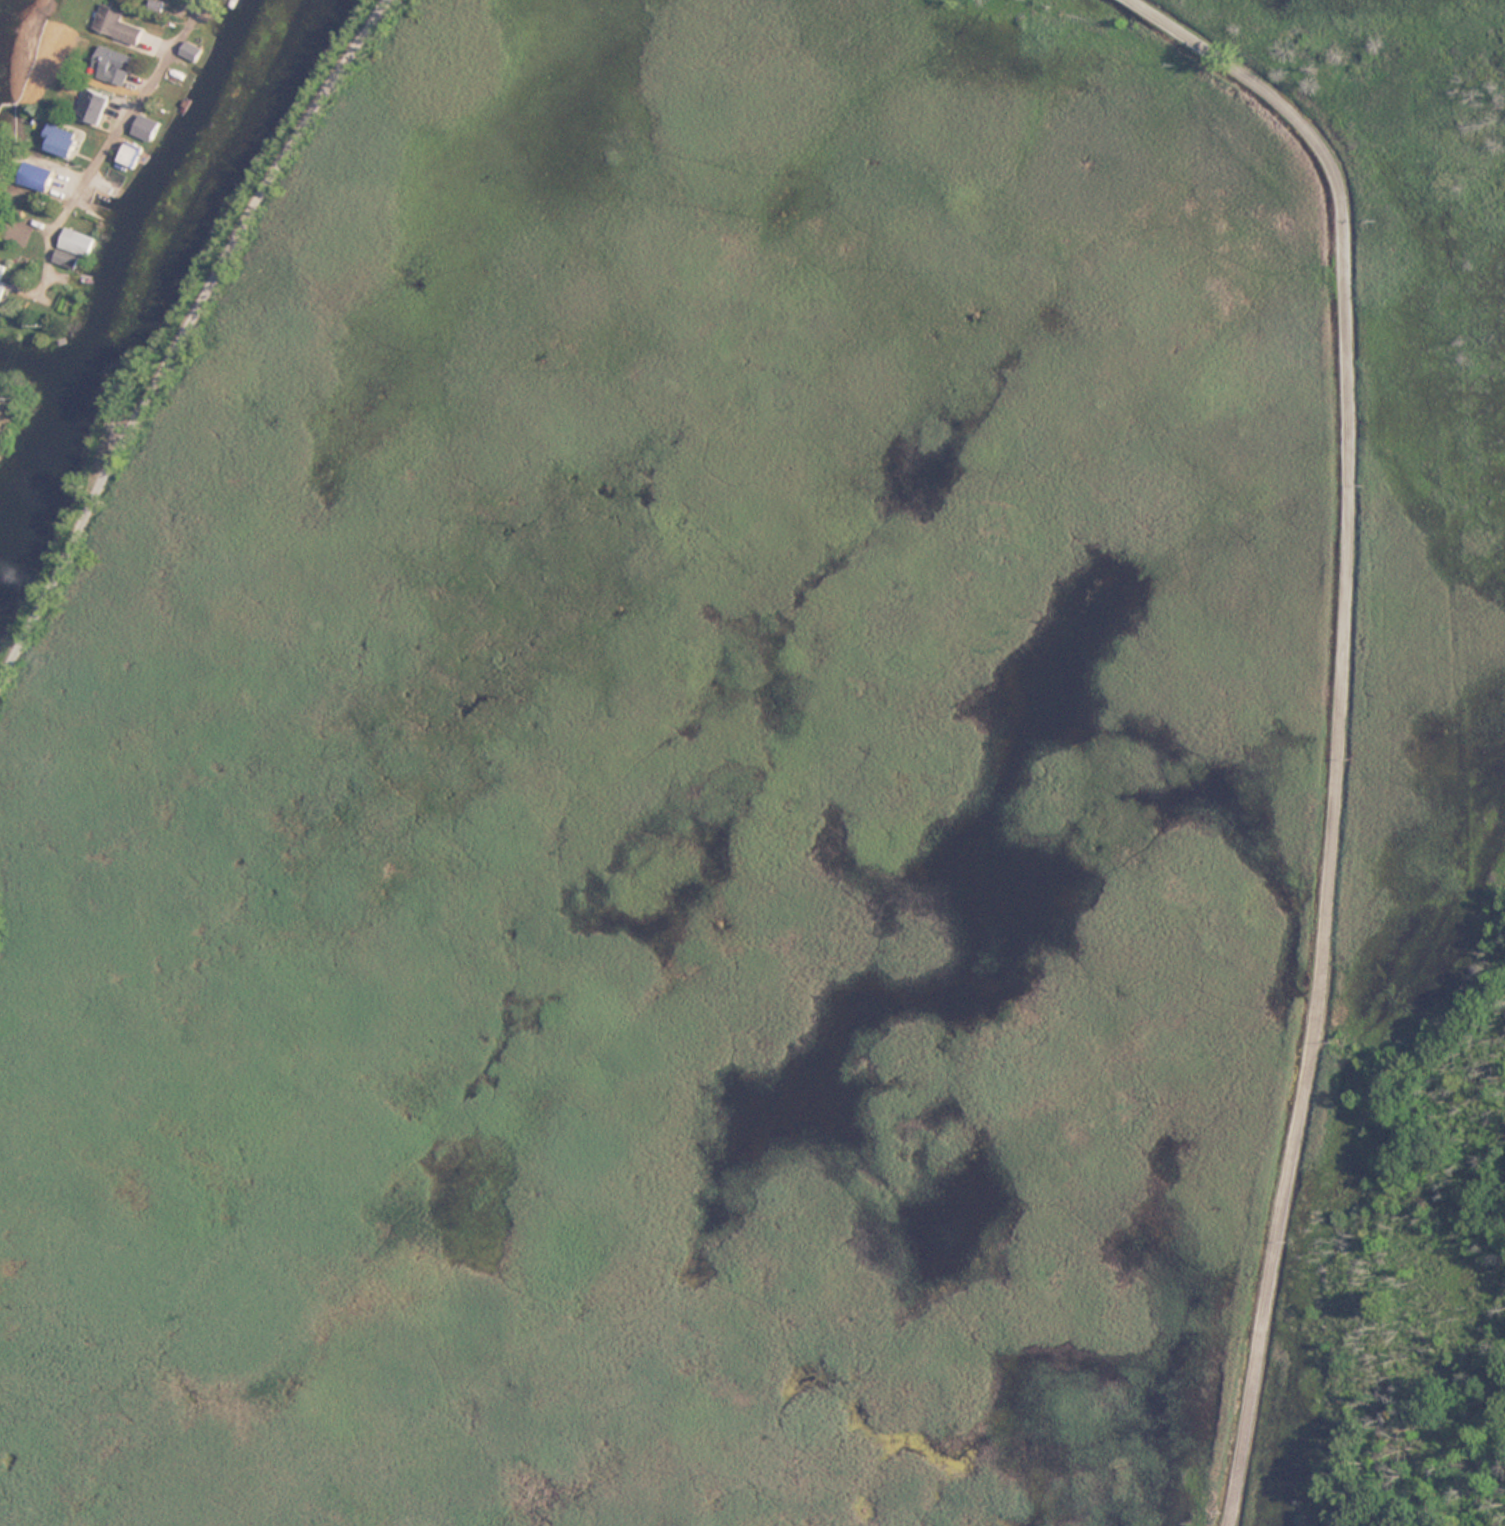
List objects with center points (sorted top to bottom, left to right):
building: (116, 24)
building: (190, 51)
building: (111, 64)
road: (142, 91)
building: (92, 105)
building: (145, 127)
building: (60, 140)
building: (36, 176)
building: (73, 247)
building: (2, 281)
road: (181, 332)
road: (1337, 717)

